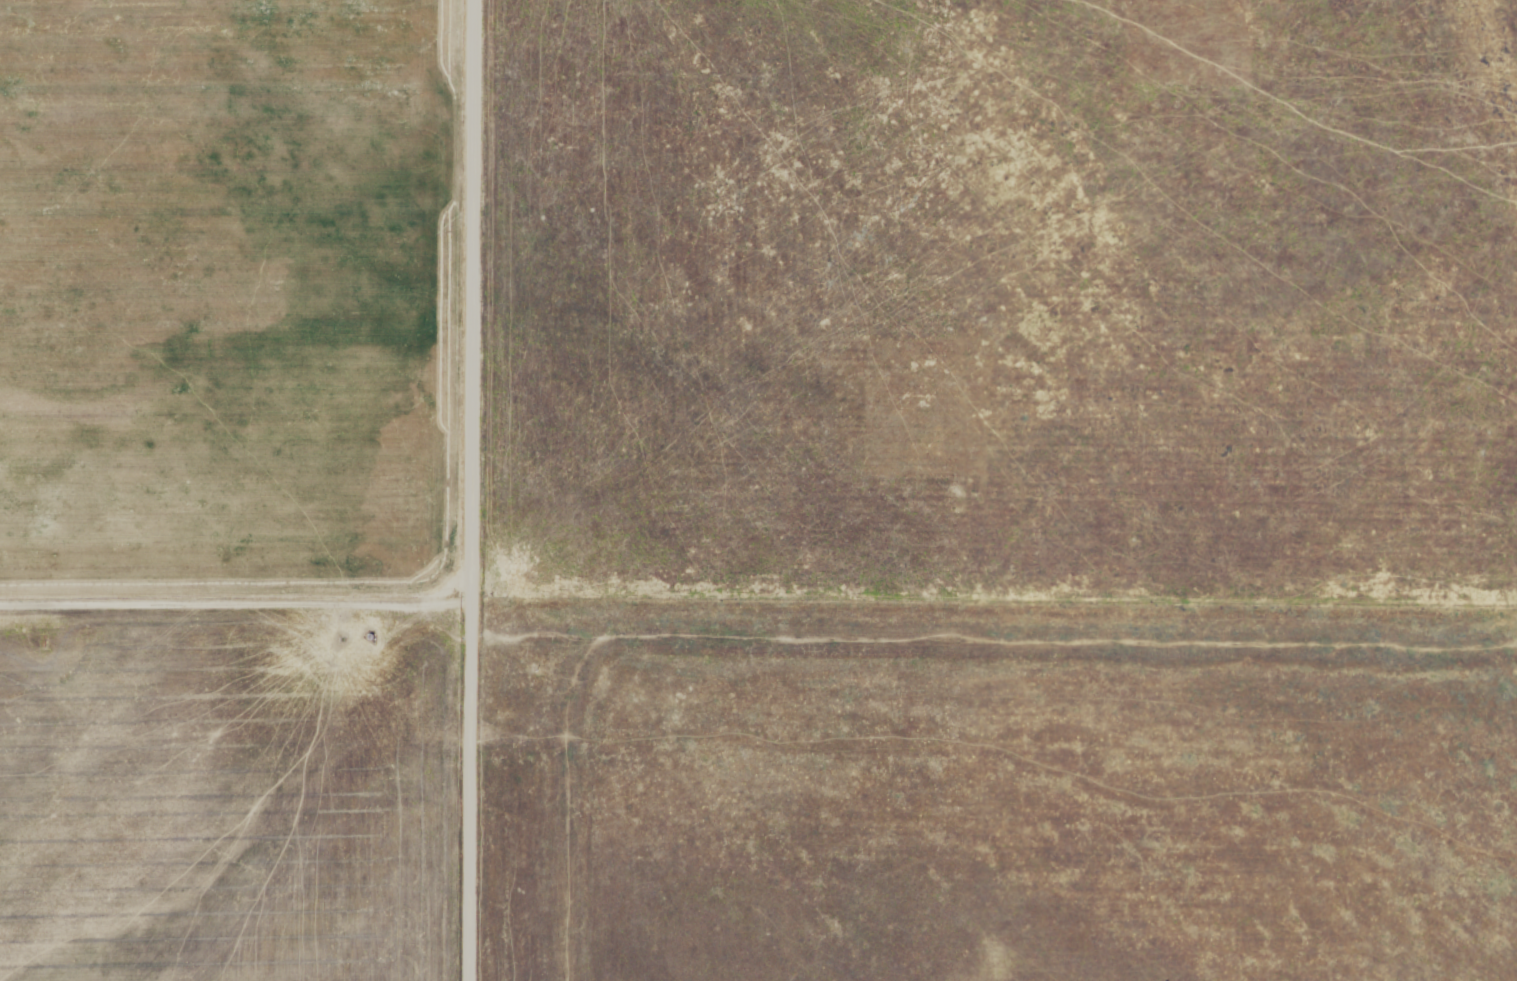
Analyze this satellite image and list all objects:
road: (471, 490)
road: (235, 596)
storage tank: (371, 637)

